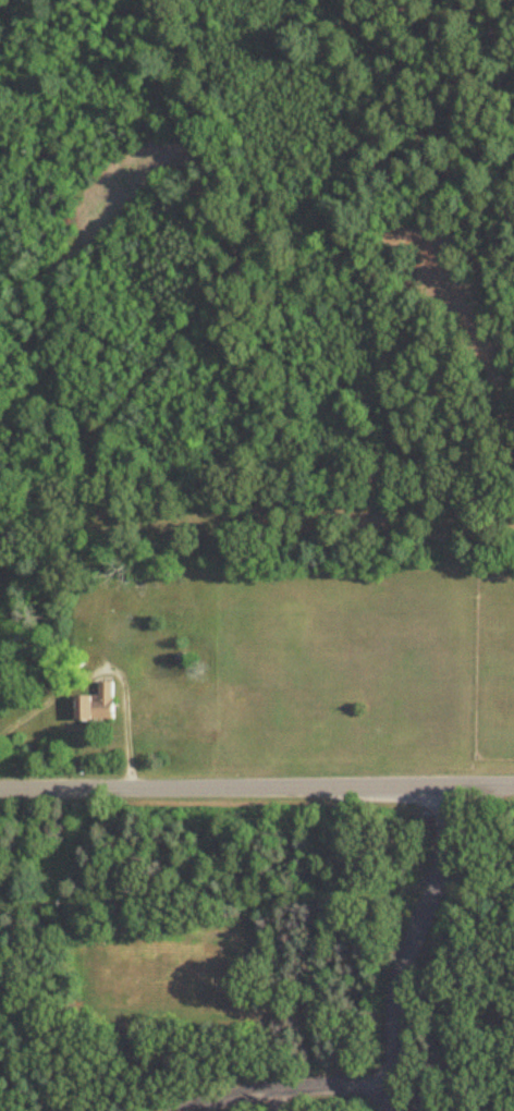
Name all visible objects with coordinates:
building: (99, 705)
road: (256, 788)
road: (408, 947)
road: (293, 1088)

